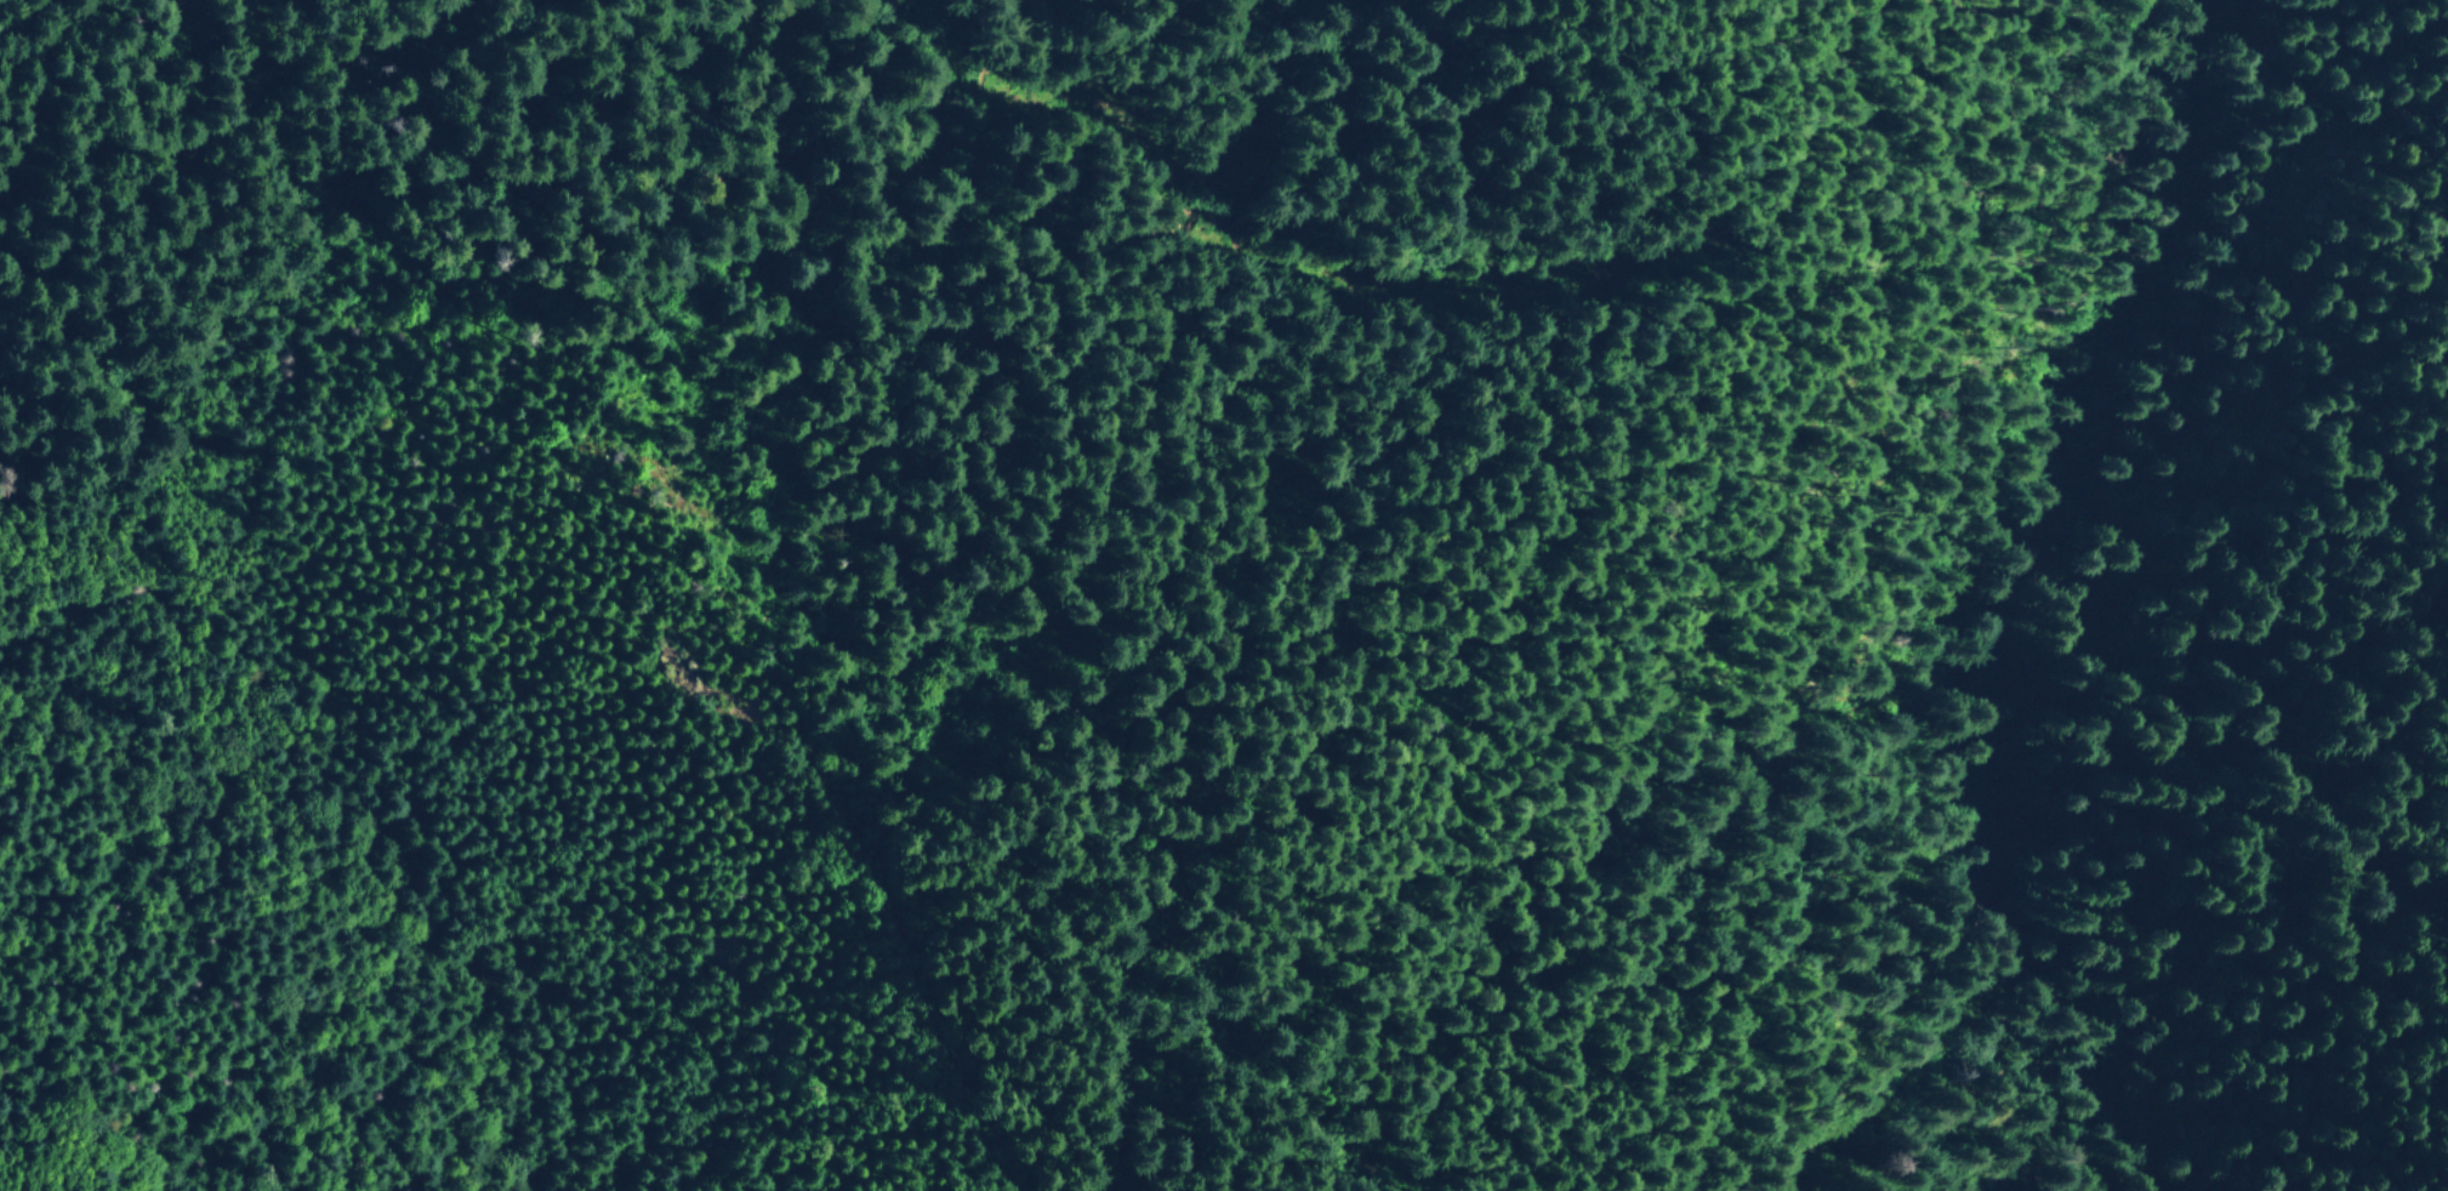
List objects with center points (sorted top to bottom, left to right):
road: (1332, 264)
road: (221, 492)
road: (1963, 856)
road: (899, 979)
road: (1218, 1100)

